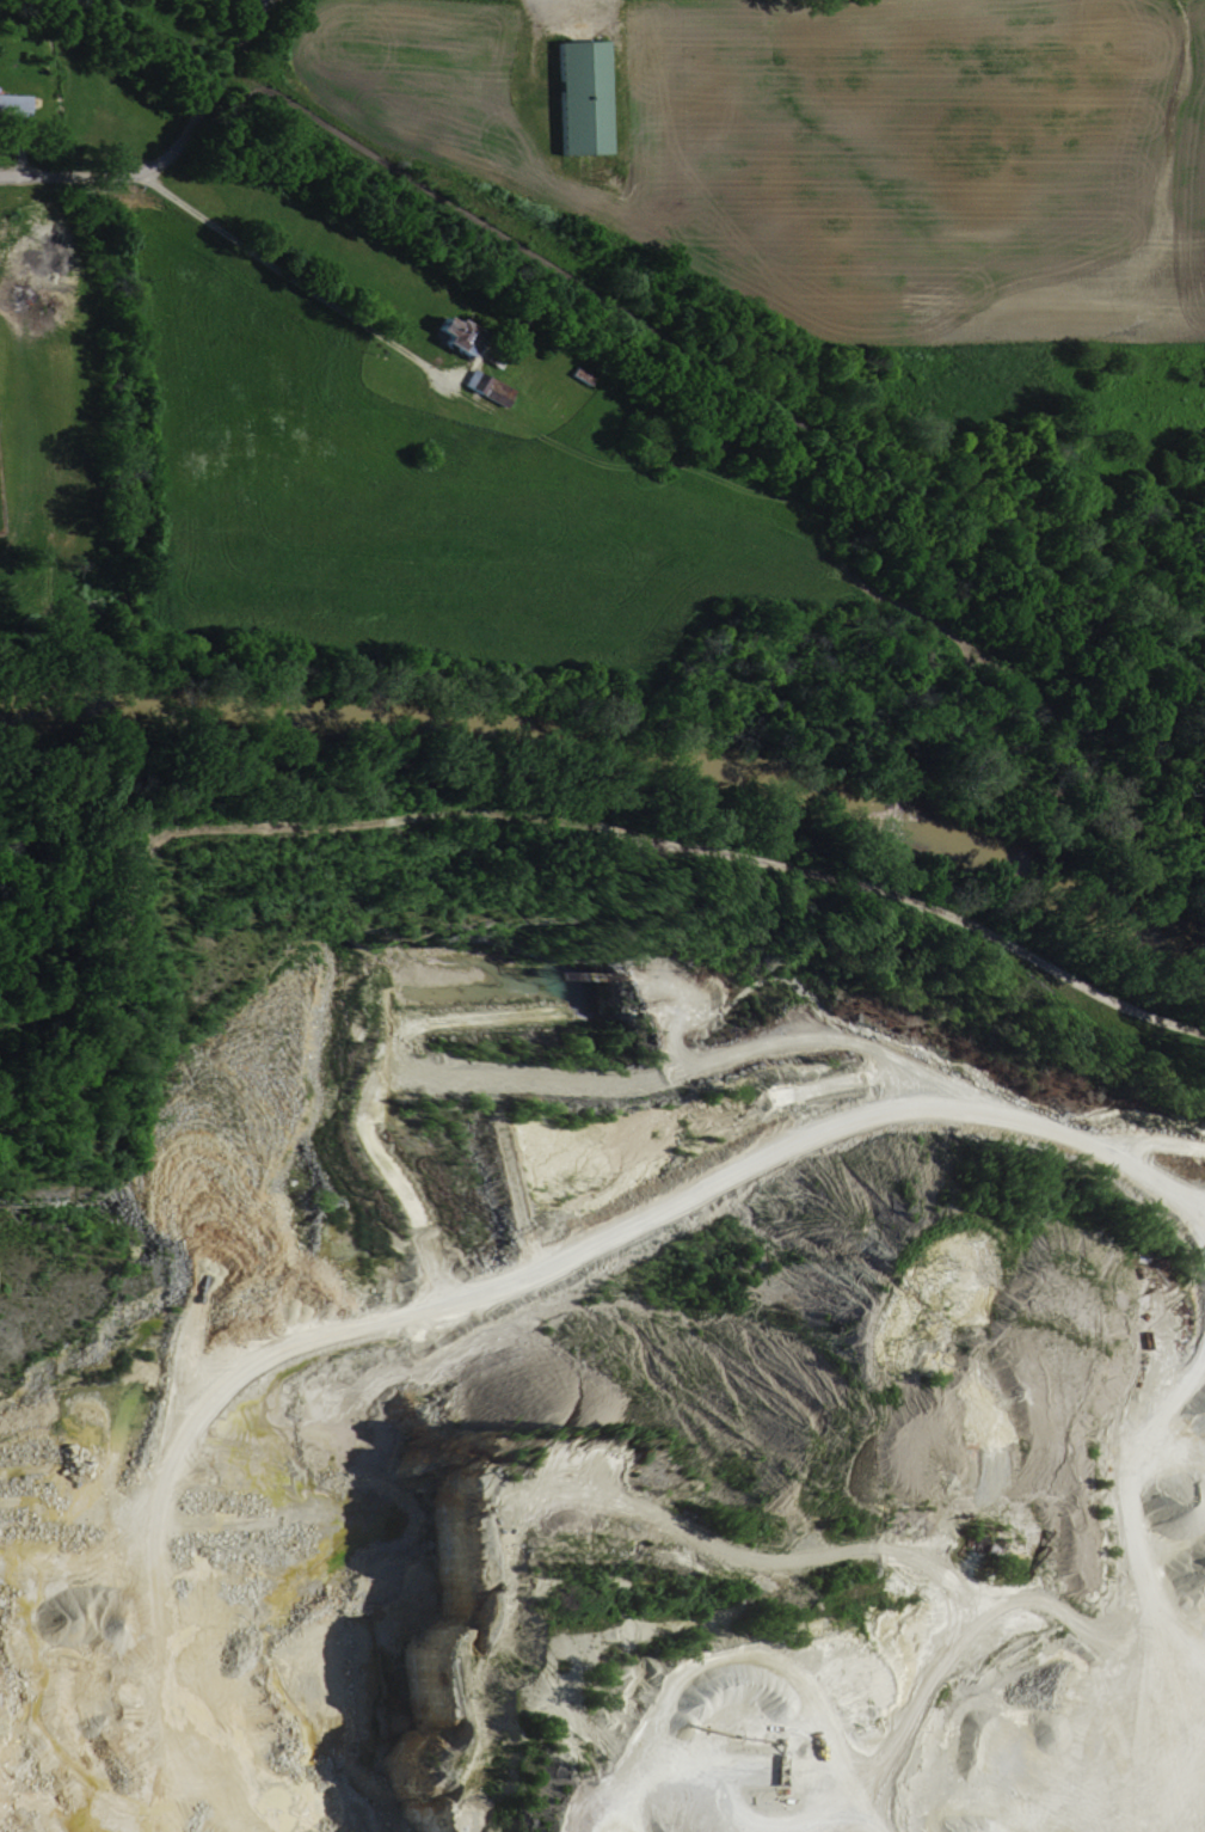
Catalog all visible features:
road: (211, 90)
building: (573, 96)
road: (73, 176)
road: (295, 280)
building: (442, 336)
building: (481, 387)
road: (1125, 1164)

